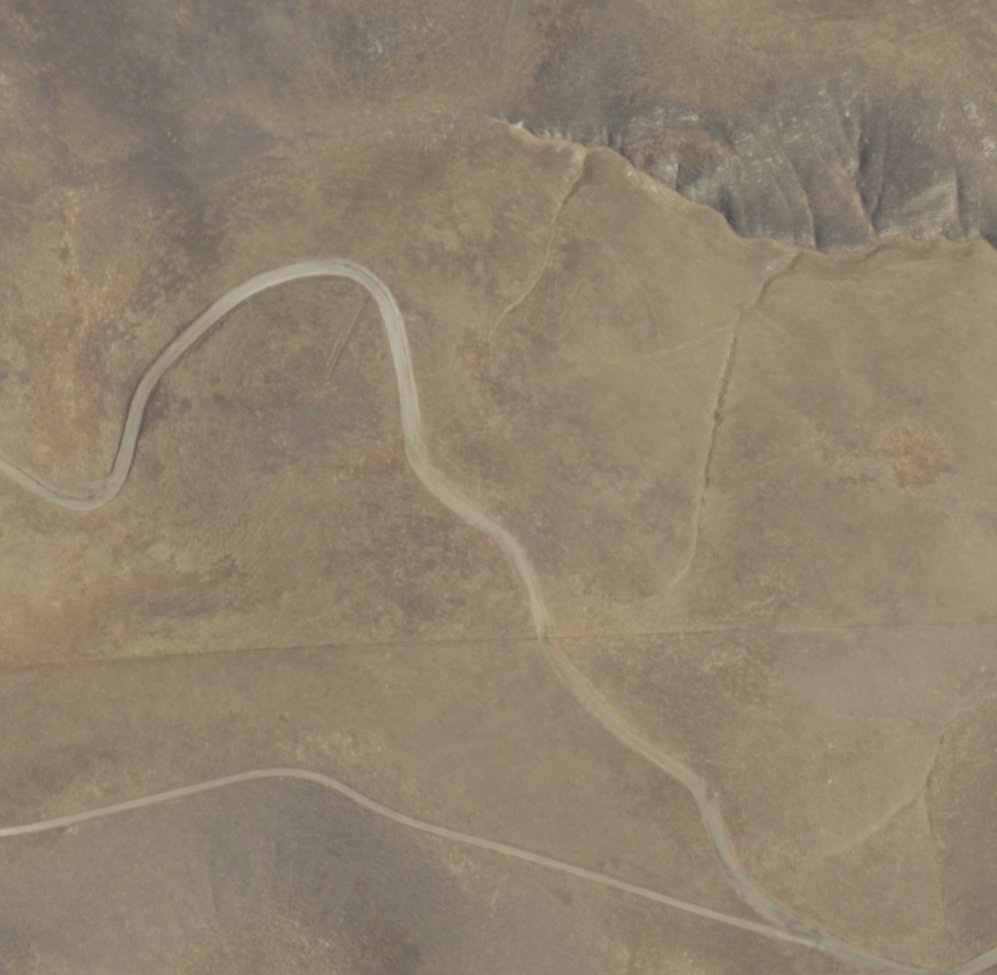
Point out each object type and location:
road: (434, 479)
road: (414, 894)
road: (978, 965)

